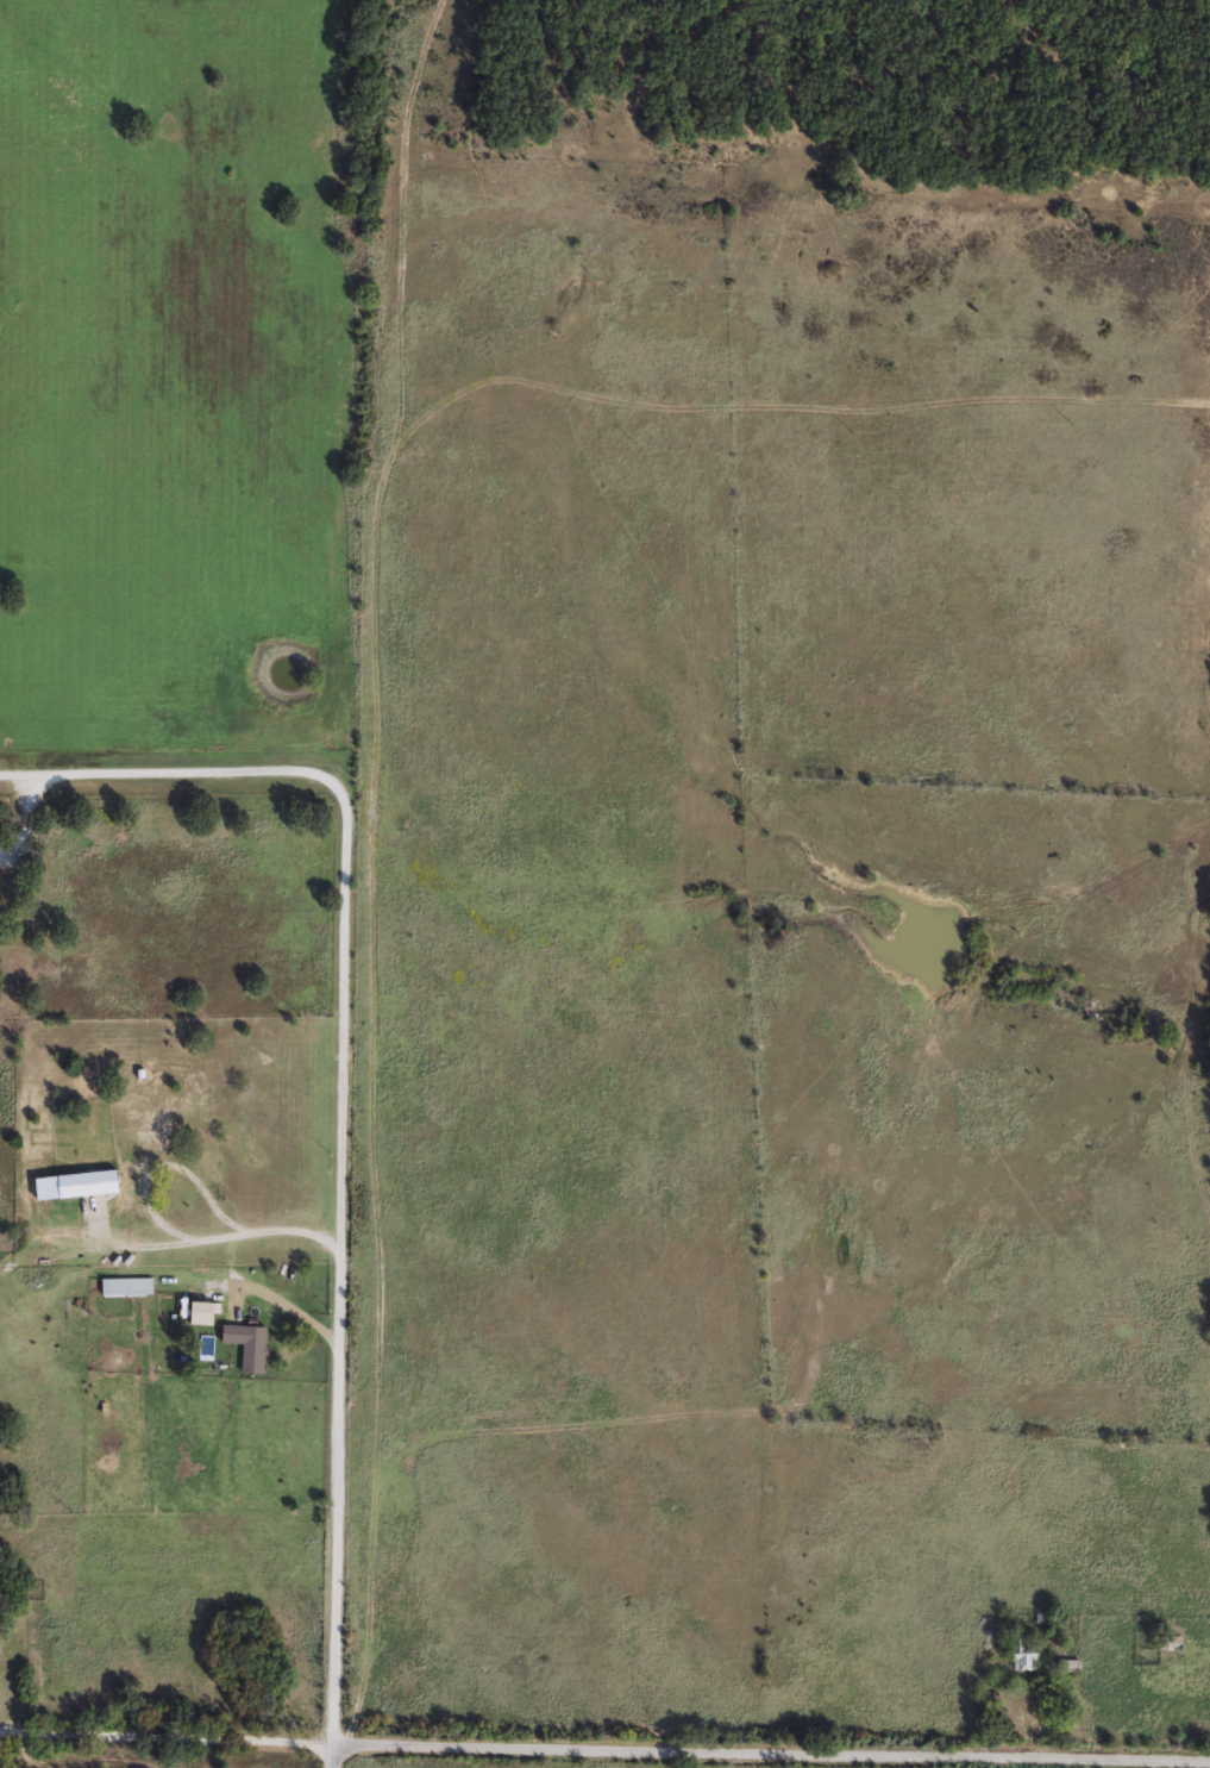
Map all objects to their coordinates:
road: (343, 1094)
building: (163, 1130)
building: (128, 1286)
building: (250, 1343)
building: (1168, 1642)
building: (1021, 1650)
building: (1068, 1664)
road: (13, 1733)
road: (178, 1739)
road: (770, 1750)
road: (330, 1756)

